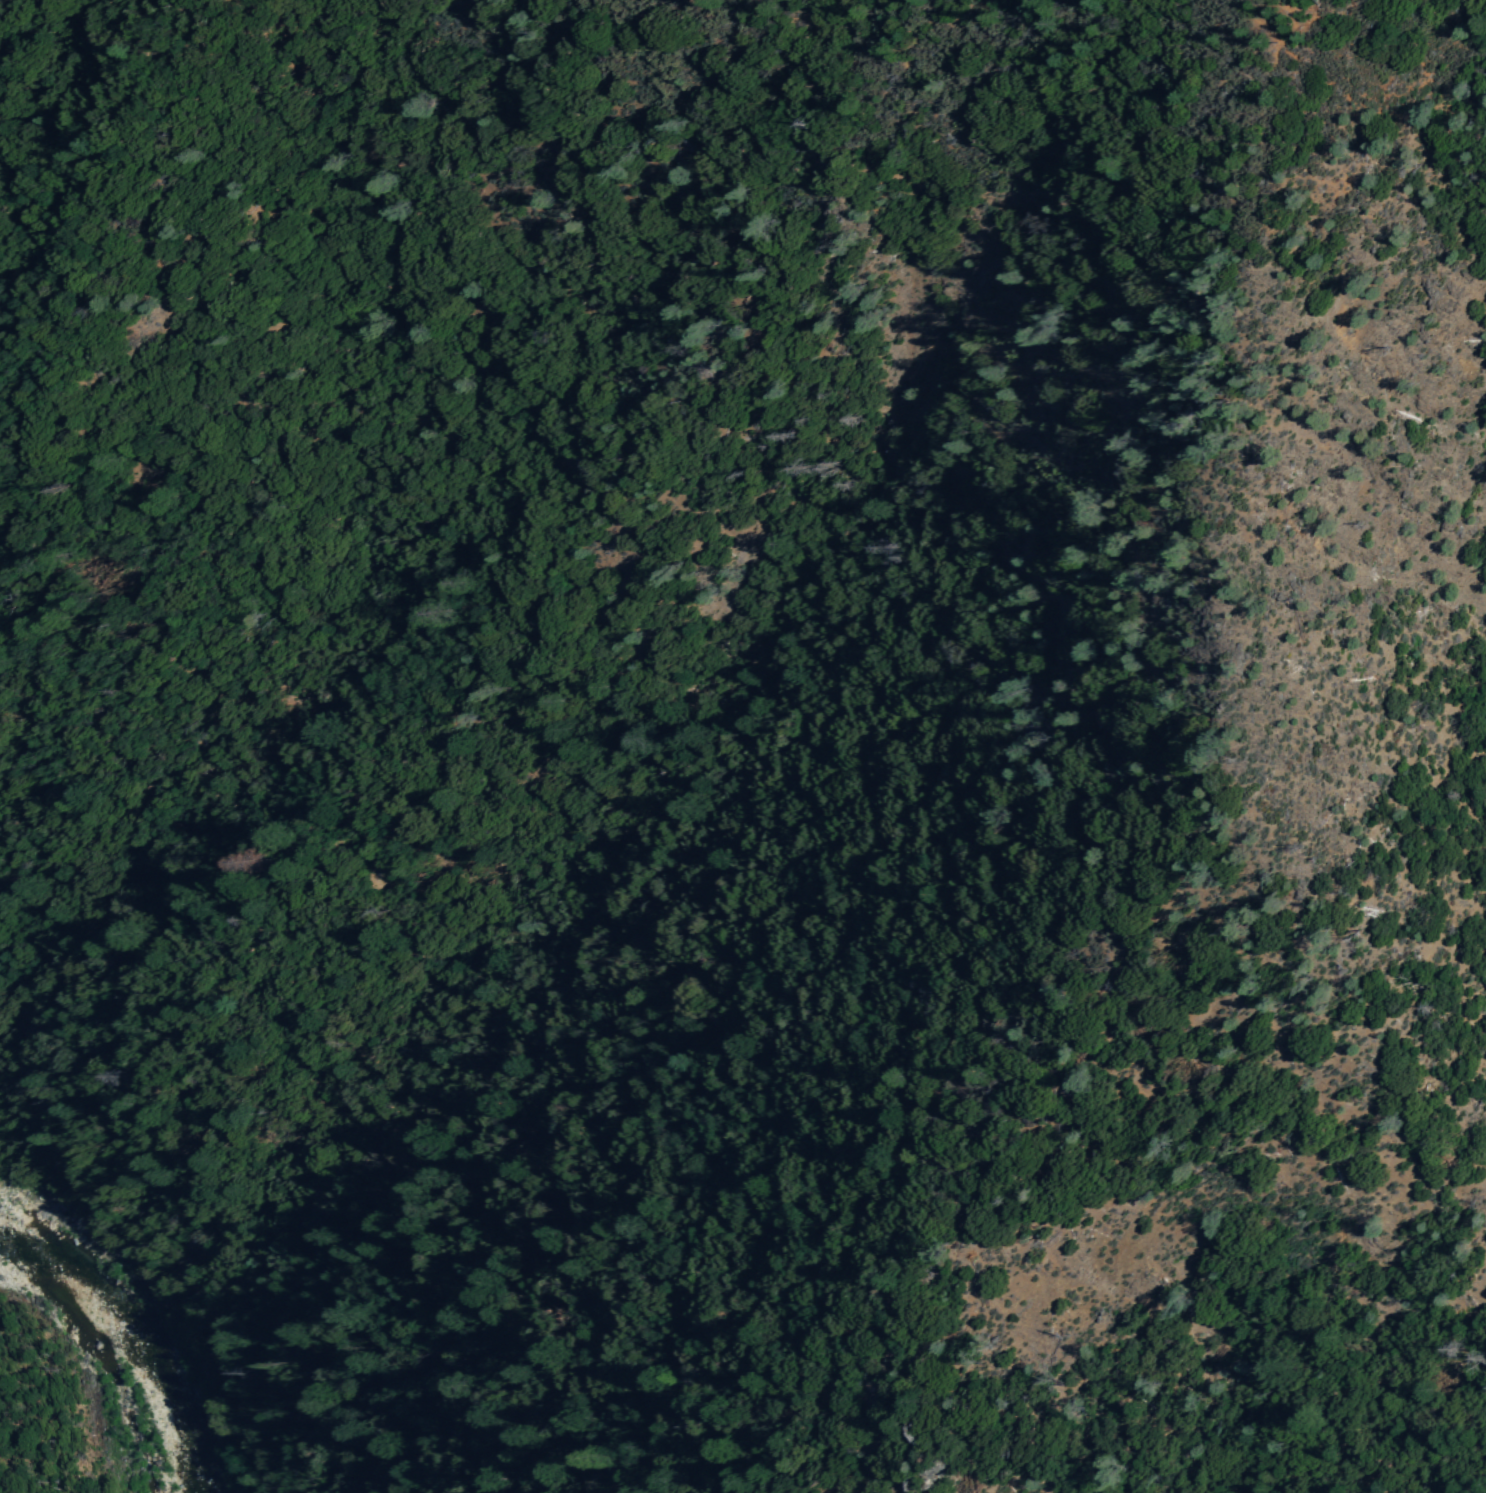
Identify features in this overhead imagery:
road: (276, 1201)
river: (75, 1315)
river: (120, 1367)
river: (184, 1431)

